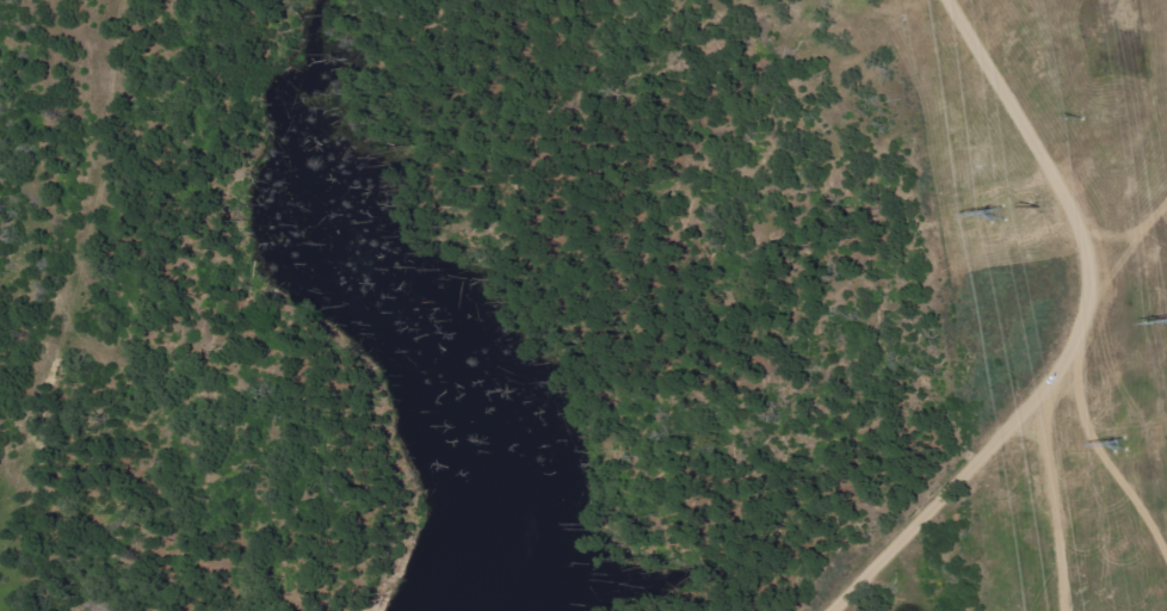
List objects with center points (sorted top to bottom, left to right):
road: (1070, 331)

